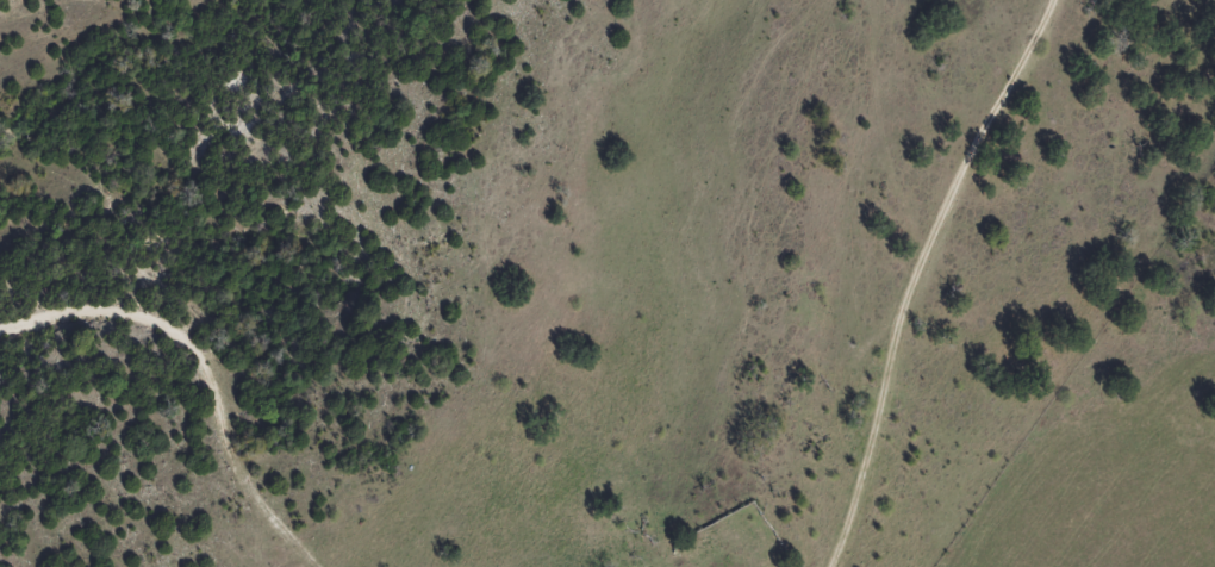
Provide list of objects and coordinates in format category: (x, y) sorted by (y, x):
road: (814, 262)
road: (170, 397)

